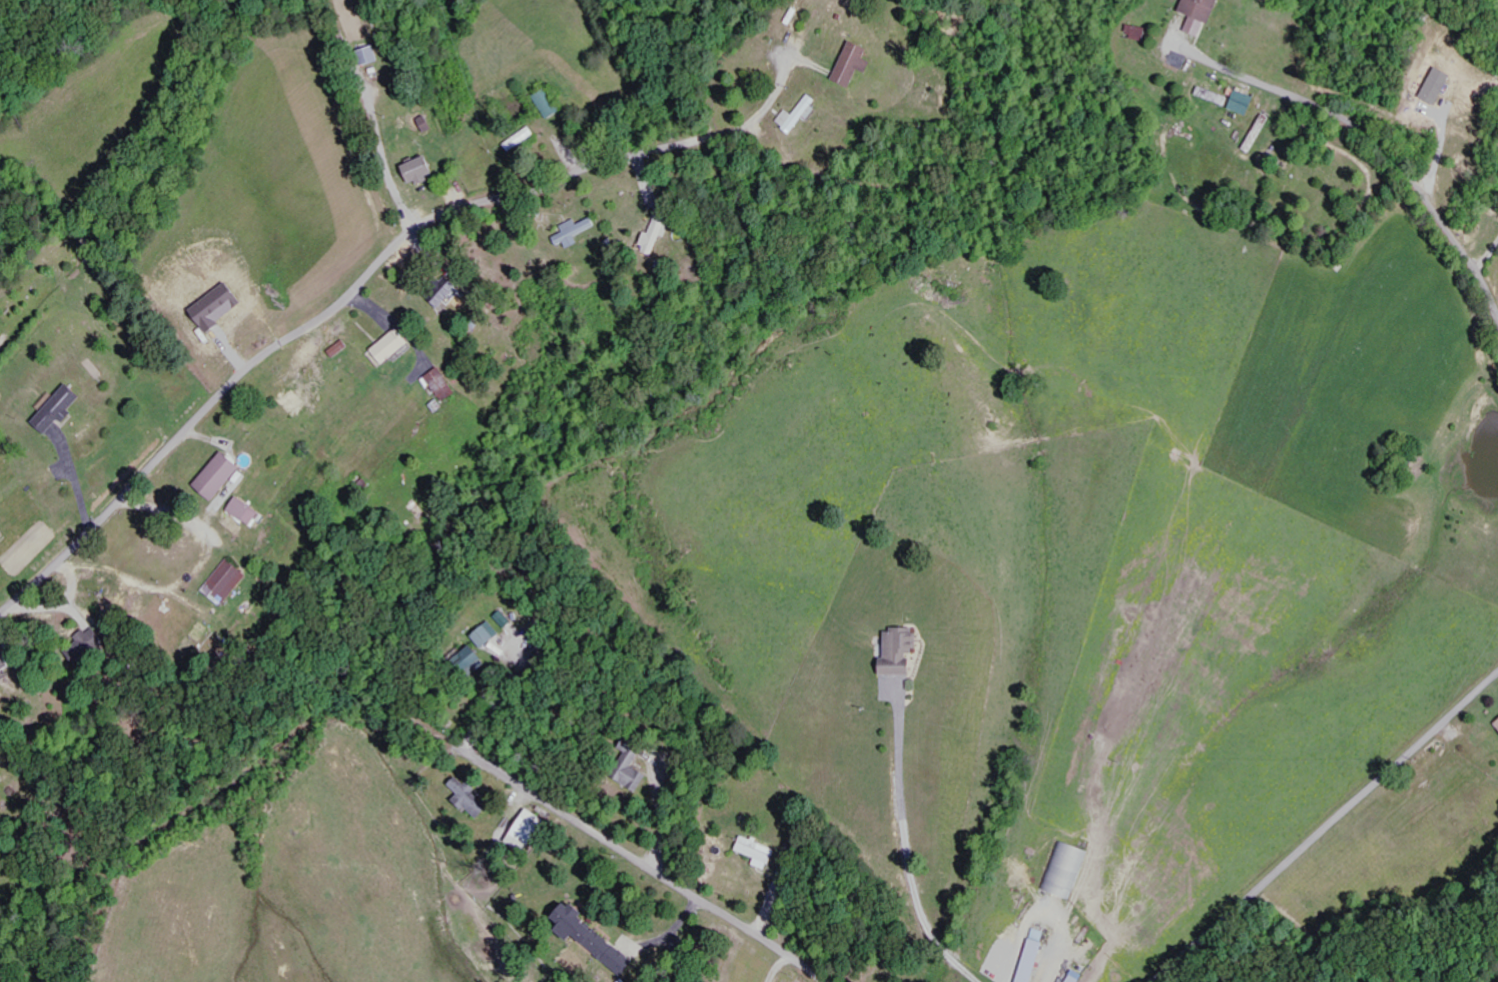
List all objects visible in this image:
building: (1202, 14)
building: (1139, 33)
building: (857, 65)
building: (1440, 87)
building: (1217, 98)
building: (1245, 103)
building: (550, 104)
building: (801, 115)
building: (428, 123)
road: (1386, 148)
building: (422, 170)
building: (576, 231)
building: (659, 231)
road: (365, 276)
building: (447, 294)
building: (221, 306)
building: (394, 346)
building: (443, 384)
building: (49, 401)
building: (60, 410)
building: (221, 475)
building: (249, 512)
building: (228, 582)
building: (507, 619)
building: (489, 635)
building: (92, 646)
building: (902, 652)
building: (475, 658)
building: (5, 666)
building: (636, 768)
building: (472, 799)
road: (1327, 828)
building: (530, 831)
road: (910, 846)
building: (760, 852)
road: (648, 867)
building: (1068, 871)
road: (1044, 916)
building: (593, 937)
road: (782, 967)
building: (1078, 977)

